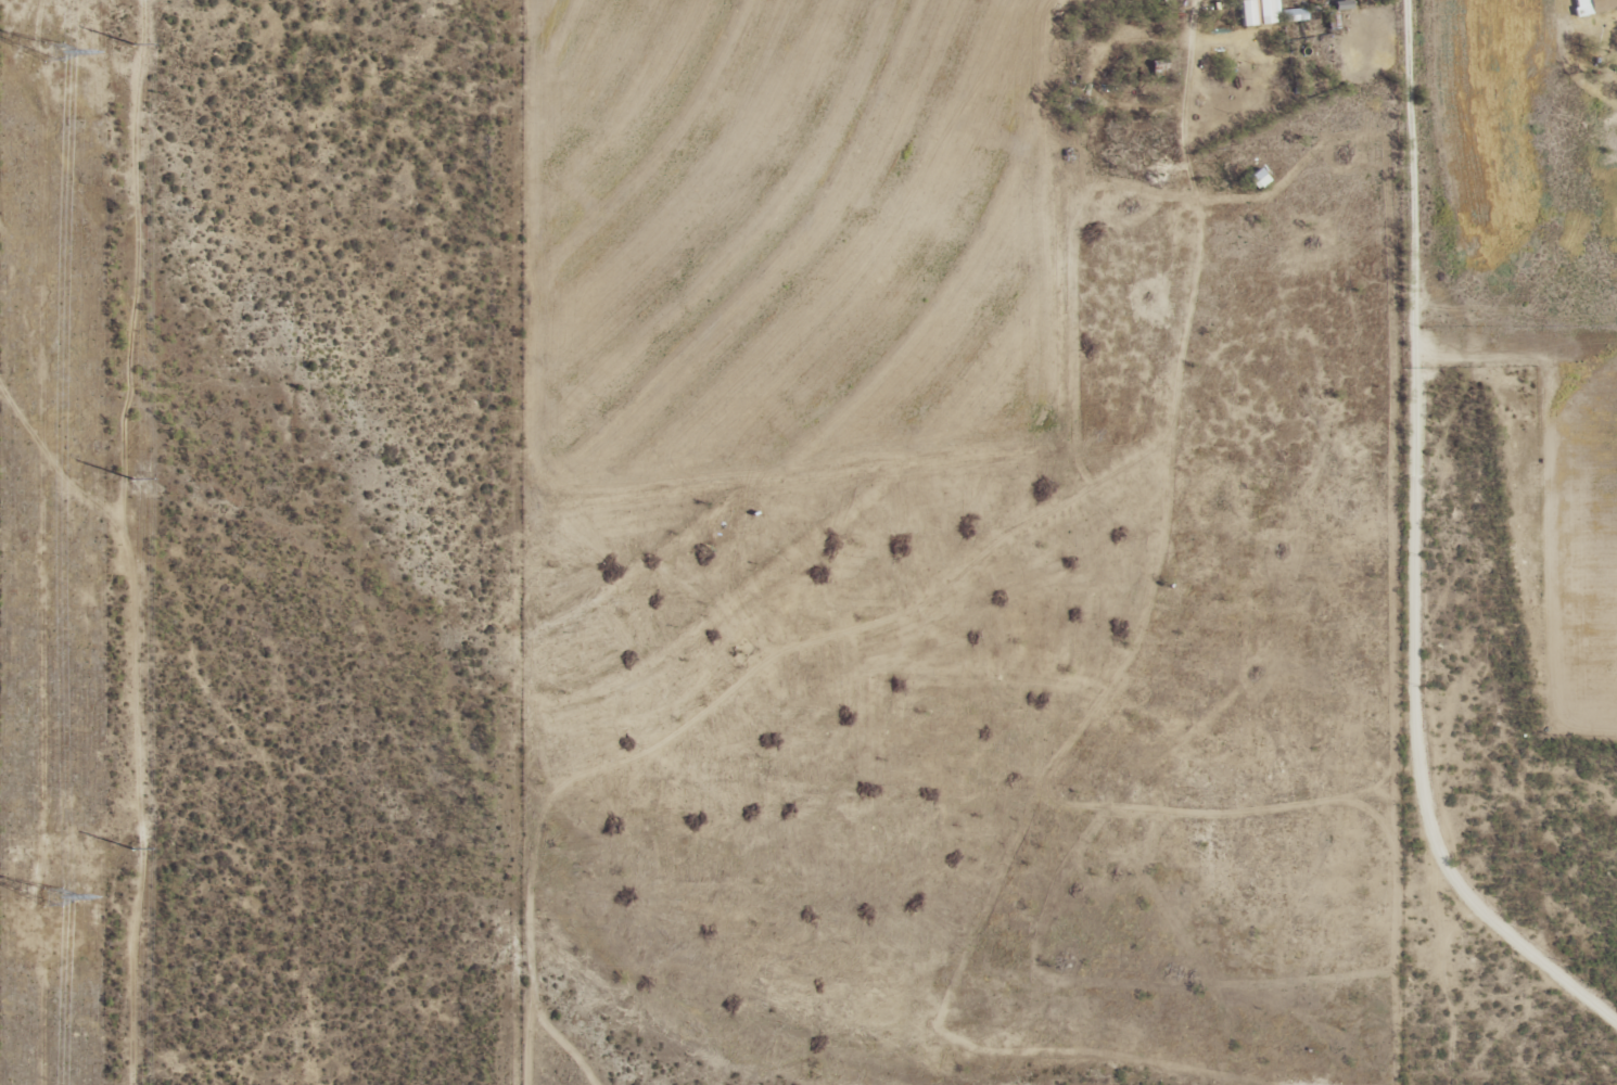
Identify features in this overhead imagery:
building: (1591, 5)
building: (1260, 11)
power tower: (131, 43)
power tower: (58, 51)
power tower: (130, 477)
road: (245, 700)
power tower: (130, 847)
power tower: (55, 894)

